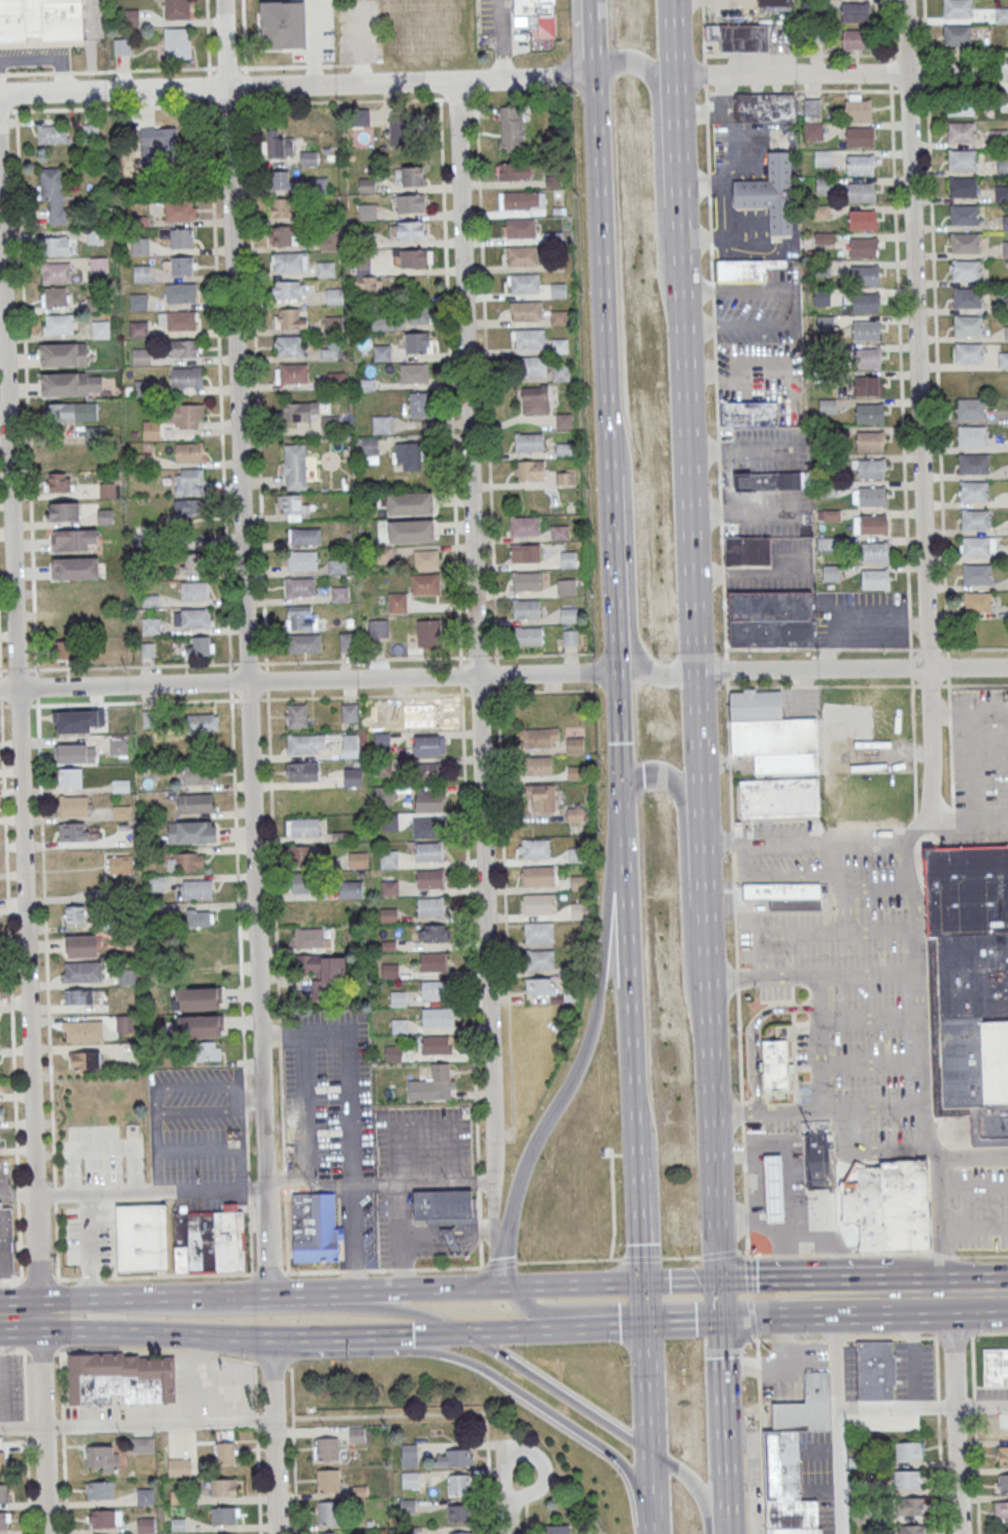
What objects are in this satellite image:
building: (774, 2)
building: (958, 8)
building: (176, 9)
building: (526, 12)
building: (855, 12)
building: (1001, 15)
building: (39, 19)
road: (702, 27)
road: (889, 27)
building: (957, 35)
road: (674, 37)
building: (739, 37)
road: (540, 38)
road: (502, 39)
road: (594, 39)
building: (856, 39)
building: (177, 42)
road: (244, 43)
road: (207, 44)
building: (121, 47)
road: (907, 53)
road: (939, 53)
road: (46, 58)
road: (183, 68)
building: (958, 72)
road: (841, 73)
road: (297, 85)
road: (857, 91)
building: (1004, 102)
building: (764, 107)
building: (811, 107)
building: (960, 108)
building: (857, 109)
building: (511, 129)
building: (813, 130)
building: (961, 131)
building: (90, 132)
building: (403, 132)
building: (51, 134)
building: (998, 135)
building: (858, 137)
building: (159, 139)
building: (278, 144)
building: (822, 157)
building: (308, 158)
road: (441, 158)
building: (962, 159)
road: (658, 162)
building: (859, 164)
building: (1002, 166)
building: (513, 171)
building: (410, 176)
building: (280, 179)
building: (319, 184)
building: (366, 185)
building: (825, 185)
building: (963, 186)
building: (860, 192)
building: (53, 193)
building: (770, 193)
building: (1001, 193)
building: (522, 200)
building: (411, 203)
building: (282, 207)
building: (179, 210)
building: (366, 211)
building: (964, 214)
building: (861, 220)
building: (1005, 222)
building: (519, 227)
building: (410, 230)
building: (282, 235)
building: (95, 237)
building: (183, 238)
building: (328, 240)
building: (965, 243)
building: (55, 246)
building: (139, 246)
building: (862, 247)
building: (1005, 248)
building: (521, 255)
building: (414, 258)
building: (288, 262)
building: (362, 262)
building: (98, 265)
building: (178, 265)
building: (325, 268)
building: (741, 270)
building: (966, 270)
building: (55, 273)
building: (141, 273)
building: (863, 275)
building: (523, 283)
building: (368, 287)
road: (676, 289)
building: (288, 290)
building: (558, 290)
building: (180, 292)
building: (334, 296)
building: (54, 297)
building: (967, 297)
building: (137, 301)
building: (864, 302)
road: (792, 304)
building: (1005, 304)
building: (526, 311)
building: (420, 315)
building: (558, 317)
building: (290, 318)
building: (181, 320)
building: (380, 323)
building: (57, 325)
building: (968, 325)
building: (137, 328)
building: (100, 329)
building: (865, 330)
building: (1006, 333)
building: (527, 339)
building: (417, 343)
building: (288, 345)
building: (559, 345)
building: (183, 348)
building: (968, 352)
building: (381, 353)
building: (63, 354)
building: (140, 356)
road: (485, 356)
building: (866, 358)
building: (1003, 359)
building: (560, 371)
building: (291, 373)
building: (413, 373)
road: (735, 373)
building: (186, 377)
building: (71, 384)
building: (867, 386)
building: (141, 387)
road: (219, 394)
building: (535, 399)
building: (419, 404)
building: (827, 406)
road: (918, 407)
building: (971, 408)
building: (71, 411)
building: (299, 411)
building: (749, 413)
building: (869, 413)
building: (185, 415)
building: (564, 421)
building: (330, 424)
building: (381, 424)
building: (151, 430)
road: (939, 433)
building: (95, 434)
building: (971, 435)
building: (869, 440)
building: (529, 442)
building: (563, 449)
building: (370, 451)
building: (188, 452)
building: (407, 456)
building: (111, 458)
building: (143, 460)
building: (973, 463)
building: (294, 466)
building: (870, 468)
building: (531, 470)
building: (565, 476)
building: (189, 481)
building: (772, 481)
building: (57, 482)
building: (828, 488)
building: (108, 489)
building: (974, 490)
building: (871, 496)
building: (410, 503)
building: (292, 506)
building: (188, 509)
road: (740, 510)
building: (77, 512)
building: (975, 519)
building: (872, 524)
building: (524, 527)
building: (411, 530)
building: (559, 533)
building: (303, 535)
building: (73, 539)
building: (975, 546)
building: (747, 550)
building: (873, 552)
building: (525, 554)
building: (383, 555)
building: (568, 559)
building: (425, 560)
building: (302, 562)
road: (629, 563)
building: (191, 564)
building: (336, 566)
building: (77, 568)
building: (831, 573)
building: (976, 574)
building: (873, 579)
building: (526, 582)
building: (424, 584)
building: (300, 586)
building: (566, 587)
building: (194, 590)
building: (340, 594)
building: (976, 601)
building: (397, 603)
building: (527, 609)
road: (615, 610)
road: (723, 611)
building: (568, 615)
building: (300, 617)
building: (191, 618)
building: (770, 618)
road: (475, 622)
building: (150, 626)
building: (378, 628)
building: (428, 633)
building: (529, 635)
building: (569, 637)
building: (346, 641)
building: (304, 643)
building: (200, 645)
road: (247, 647)
building: (147, 649)
building: (67, 650)
road: (544, 654)
road: (495, 656)
road: (248, 662)
road: (854, 669)
road: (701, 678)
road: (266, 680)
road: (309, 680)
road: (867, 685)
road: (1, 691)
road: (544, 691)
road: (37, 693)
road: (116, 702)
building: (349, 712)
building: (296, 715)
building: (74, 722)
building: (202, 722)
building: (772, 734)
building: (538, 737)
road: (913, 737)
building: (382, 740)
road: (19, 744)
building: (306, 744)
building: (429, 745)
building: (574, 745)
building: (350, 746)
building: (76, 753)
building: (537, 766)
building: (427, 771)
building: (302, 772)
building: (199, 774)
building: (70, 777)
building: (353, 777)
traffic signals: (627, 781)
road: (464, 784)
building: (120, 785)
building: (384, 794)
building: (779, 797)
building: (541, 798)
building: (430, 801)
building: (196, 803)
building: (75, 805)
building: (121, 812)
road: (731, 812)
road: (970, 814)
building: (389, 823)
building: (302, 826)
building: (426, 828)
building: (73, 831)
building: (192, 832)
road: (697, 837)
road: (724, 837)
road: (782, 838)
road: (866, 838)
building: (534, 849)
building: (429, 851)
building: (300, 855)
road: (834, 857)
building: (388, 859)
building: (358, 860)
building: (184, 861)
building: (120, 864)
road: (689, 870)
building: (539, 876)
road: (773, 876)
building: (430, 879)
building: (156, 883)
building: (302, 883)
building: (389, 887)
building: (197, 889)
building: (350, 889)
building: (786, 895)
road: (503, 898)
road: (842, 902)
building: (538, 903)
building: (430, 906)
building: (75, 914)
building: (388, 915)
building: (199, 918)
building: (538, 931)
building: (433, 933)
building: (313, 937)
road: (765, 943)
building: (82, 945)
road: (605, 946)
building: (198, 952)
building: (539, 959)
building: (433, 962)
building: (81, 971)
building: (326, 974)
building: (127, 976)
road: (737, 983)
building: (969, 985)
building: (541, 986)
building: (433, 990)
building: (570, 992)
building: (84, 996)
building: (199, 998)
road: (11, 1001)
building: (438, 1017)
road: (822, 1017)
building: (125, 1024)
building: (200, 1025)
building: (399, 1026)
building: (82, 1030)
building: (435, 1044)
road: (739, 1045)
building: (207, 1051)
building: (393, 1053)
road: (921, 1057)
building: (84, 1060)
road: (349, 1065)
building: (775, 1066)
building: (433, 1084)
building: (1, 1112)
road: (742, 1112)
parking lot: (196, 1124)
road: (742, 1132)
road: (743, 1152)
road: (527, 1153)
road: (974, 1158)
building: (817, 1161)
building: (767, 1179)
road: (744, 1182)
road: (248, 1187)
building: (774, 1190)
road: (611, 1191)
road: (941, 1196)
building: (444, 1205)
building: (888, 1206)
road: (497, 1207)
road: (642, 1212)
road: (746, 1217)
building: (314, 1227)
building: (806, 1229)
building: (142, 1237)
building: (449, 1239)
building: (209, 1240)
building: (6, 1242)
road: (747, 1245)
road: (250, 1250)
road: (743, 1251)
road: (719, 1253)
road: (878, 1253)
road: (680, 1257)
road: (639, 1258)
road: (498, 1269)
road: (135, 1275)
road: (748, 1275)
traffic signals: (643, 1283)
road: (683, 1283)
traffic signals: (724, 1283)
road: (570, 1284)
road: (840, 1290)
road: (383, 1292)
road: (750, 1295)
road: (982, 1298)
road: (157, 1299)
road: (725, 1302)
road: (644, 1305)
road: (841, 1310)
road: (529, 1311)
road: (405, 1314)
road: (19, 1317)
road: (43, 1317)
road: (753, 1318)
traffic signals: (727, 1321)
road: (686, 1324)
traffic signals: (645, 1328)
road: (604, 1329)
road: (159, 1331)
road: (512, 1333)
road: (285, 1336)
road: (324, 1336)
road: (405, 1336)
traffic signals: (461, 1336)
road: (882, 1338)
road: (757, 1346)
road: (775, 1361)
building: (995, 1365)
road: (758, 1366)
building: (874, 1369)
parking lot: (850, 1370)
parking lot: (913, 1370)
road: (40, 1372)
road: (646, 1389)
road: (554, 1391)
parking lot: (991, 1393)
road: (528, 1398)
road: (923, 1406)
building: (804, 1407)
road: (450, 1413)
road: (958, 1416)
road: (838, 1422)
road: (158, 1423)
building: (1002, 1426)
road: (20, 1427)
road: (728, 1427)
road: (256, 1429)
road: (26, 1430)
building: (357, 1434)
road: (975, 1434)
road: (275, 1435)
road: (938, 1435)
building: (142, 1445)
building: (325, 1448)
road: (294, 1450)
building: (908, 1451)
building: (225, 1453)
building: (409, 1455)
road: (761, 1455)
building: (1001, 1455)
building: (100, 1457)
building: (454, 1457)
building: (2, 1463)
building: (782, 1465)
road: (752, 1476)
building: (409, 1479)
building: (907, 1479)
road: (44, 1480)
building: (327, 1480)
parking lot: (753, 1482)
building: (1001, 1482)
building: (459, 1484)
road: (690, 1485)
building: (223, 1487)
building: (99, 1490)
road: (648, 1492)
building: (4, 1493)
road: (524, 1495)
building: (145, 1496)
road: (525, 1499)
road: (662, 1500)
building: (910, 1506)
building: (1001, 1510)
road: (509, 1512)
building: (328, 1513)
building: (458, 1513)
building: (224, 1515)
parking lot: (825, 1516)
building: (792, 1517)
building: (104, 1518)
road: (526, 1518)
building: (3, 1521)
building: (145, 1525)
building: (557, 1529)
building: (911, 1529)
building: (1005, 1532)
building: (225, 1533)
building: (330, 1533)
building: (460, 1533)

